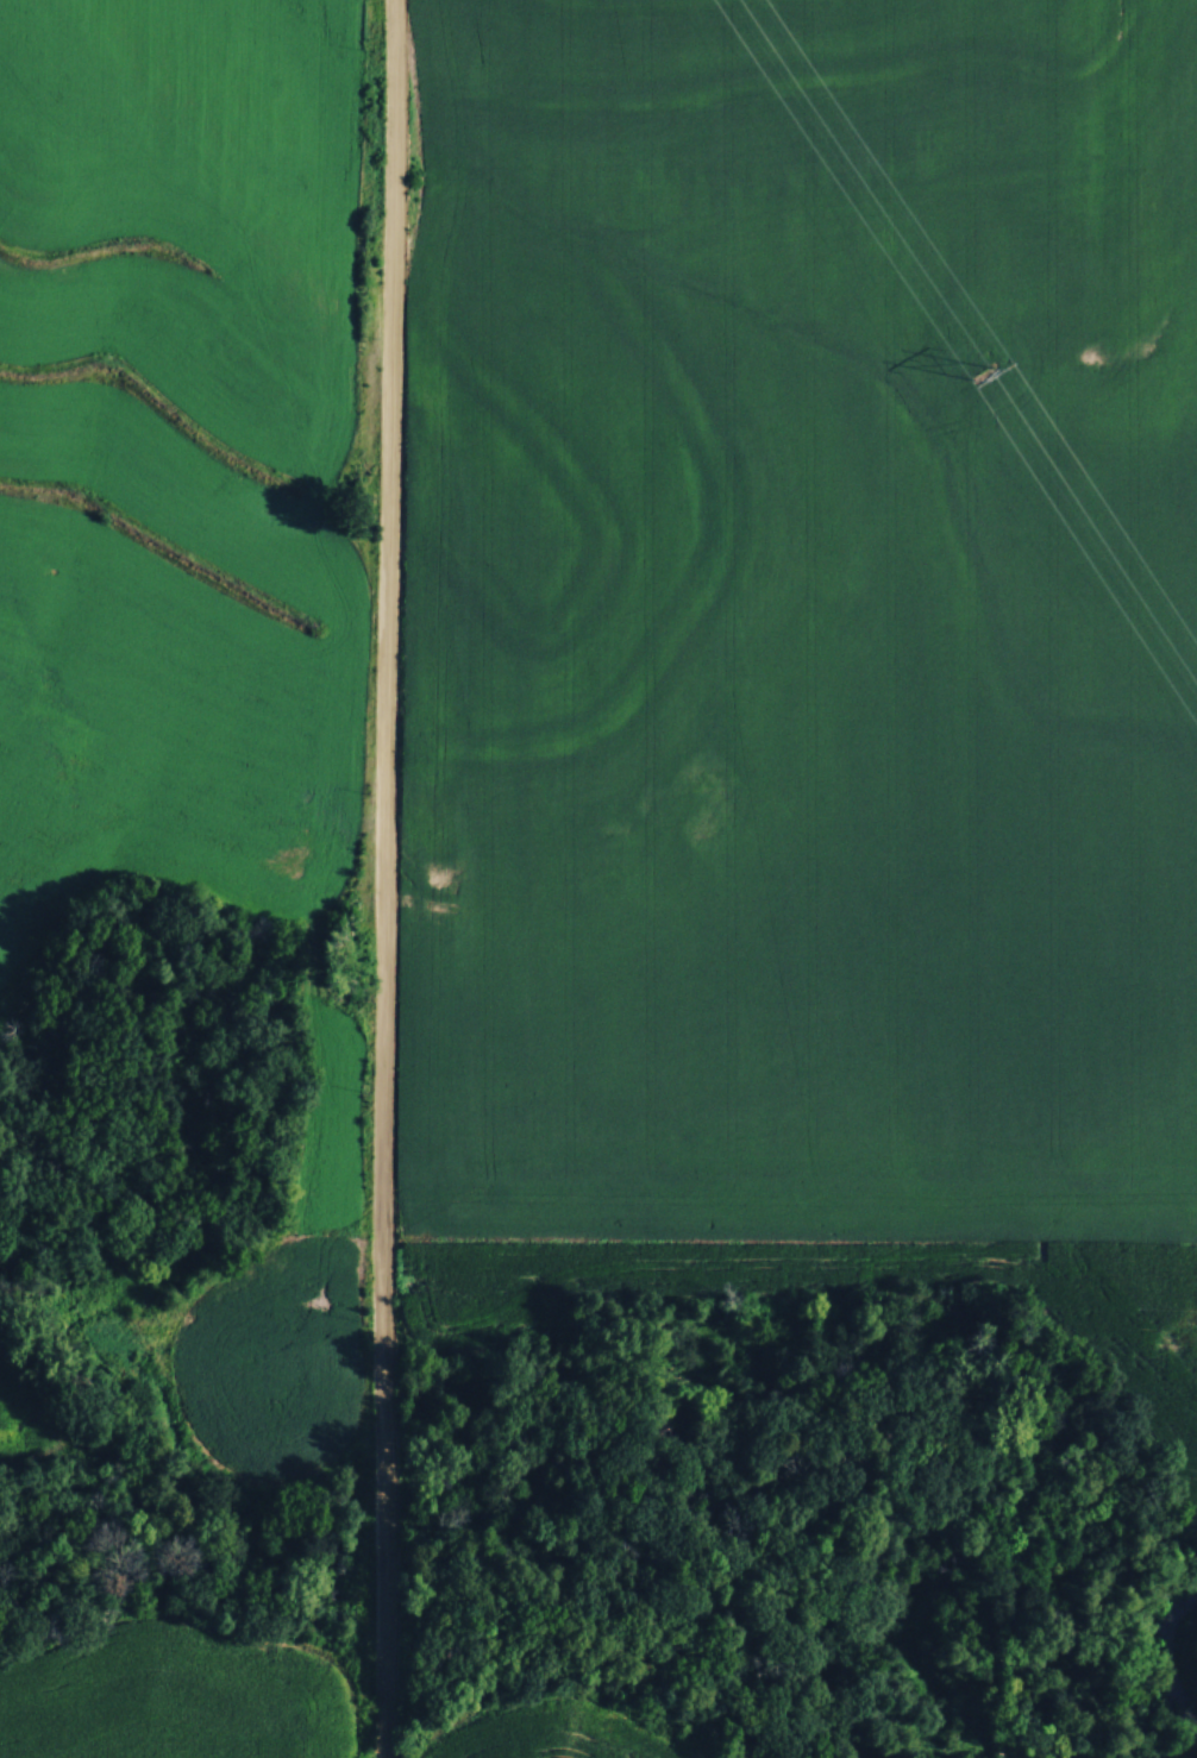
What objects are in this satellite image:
power tower: (991, 377)
road: (386, 879)

